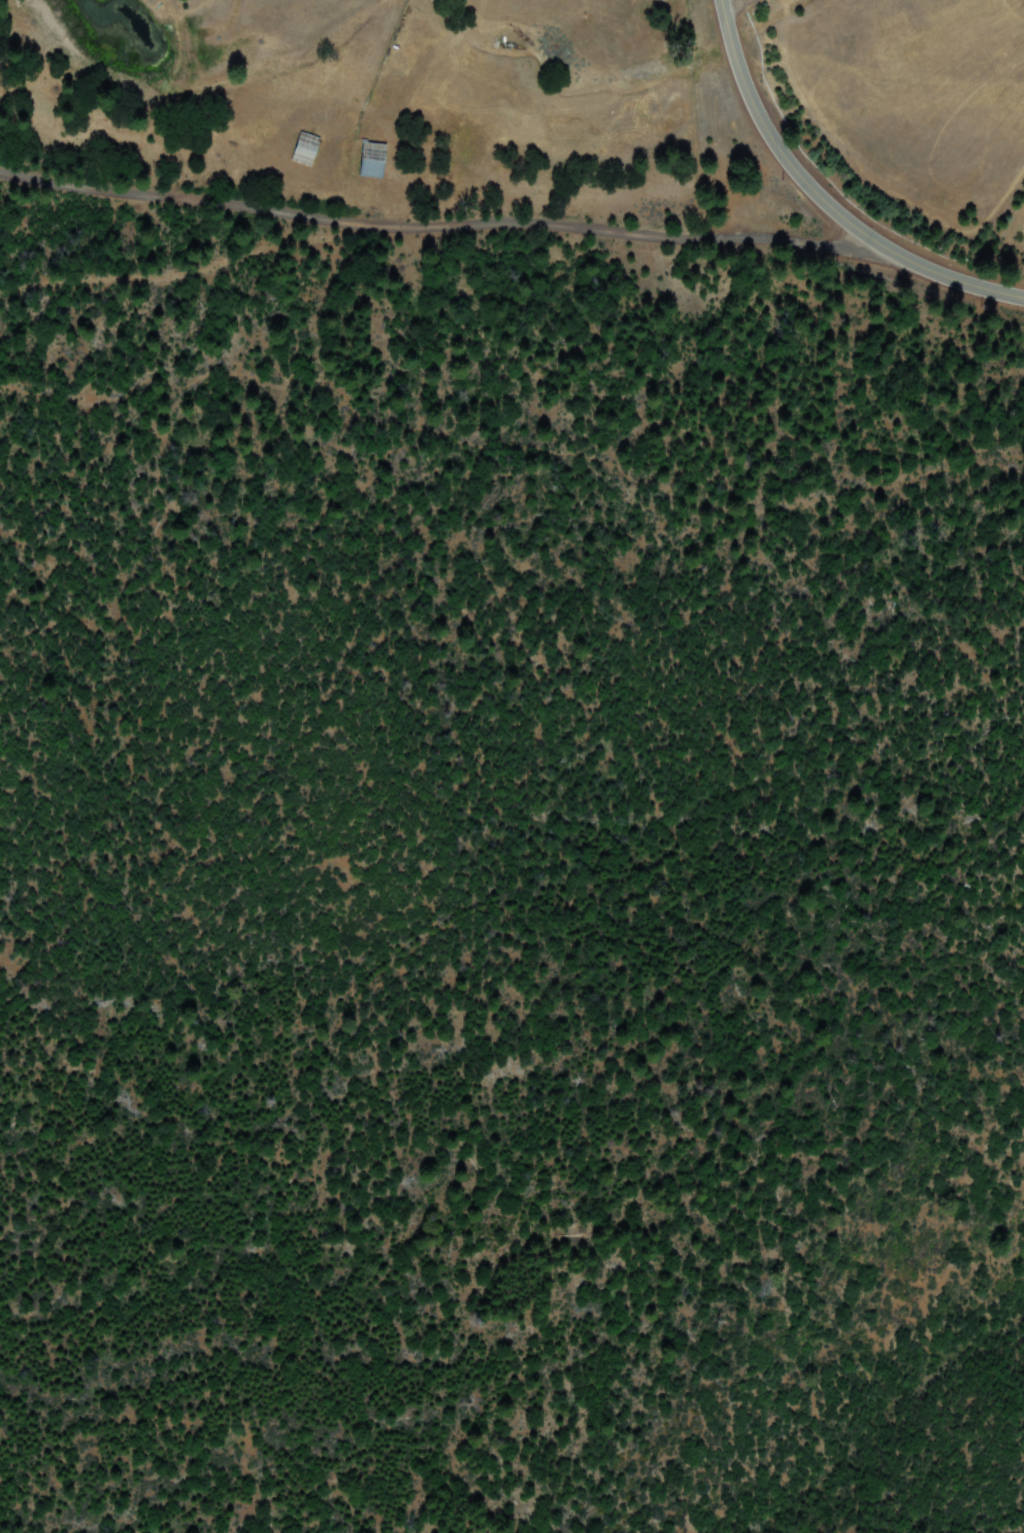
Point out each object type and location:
building: (306, 148)
building: (374, 159)
road: (820, 201)
road: (424, 229)

